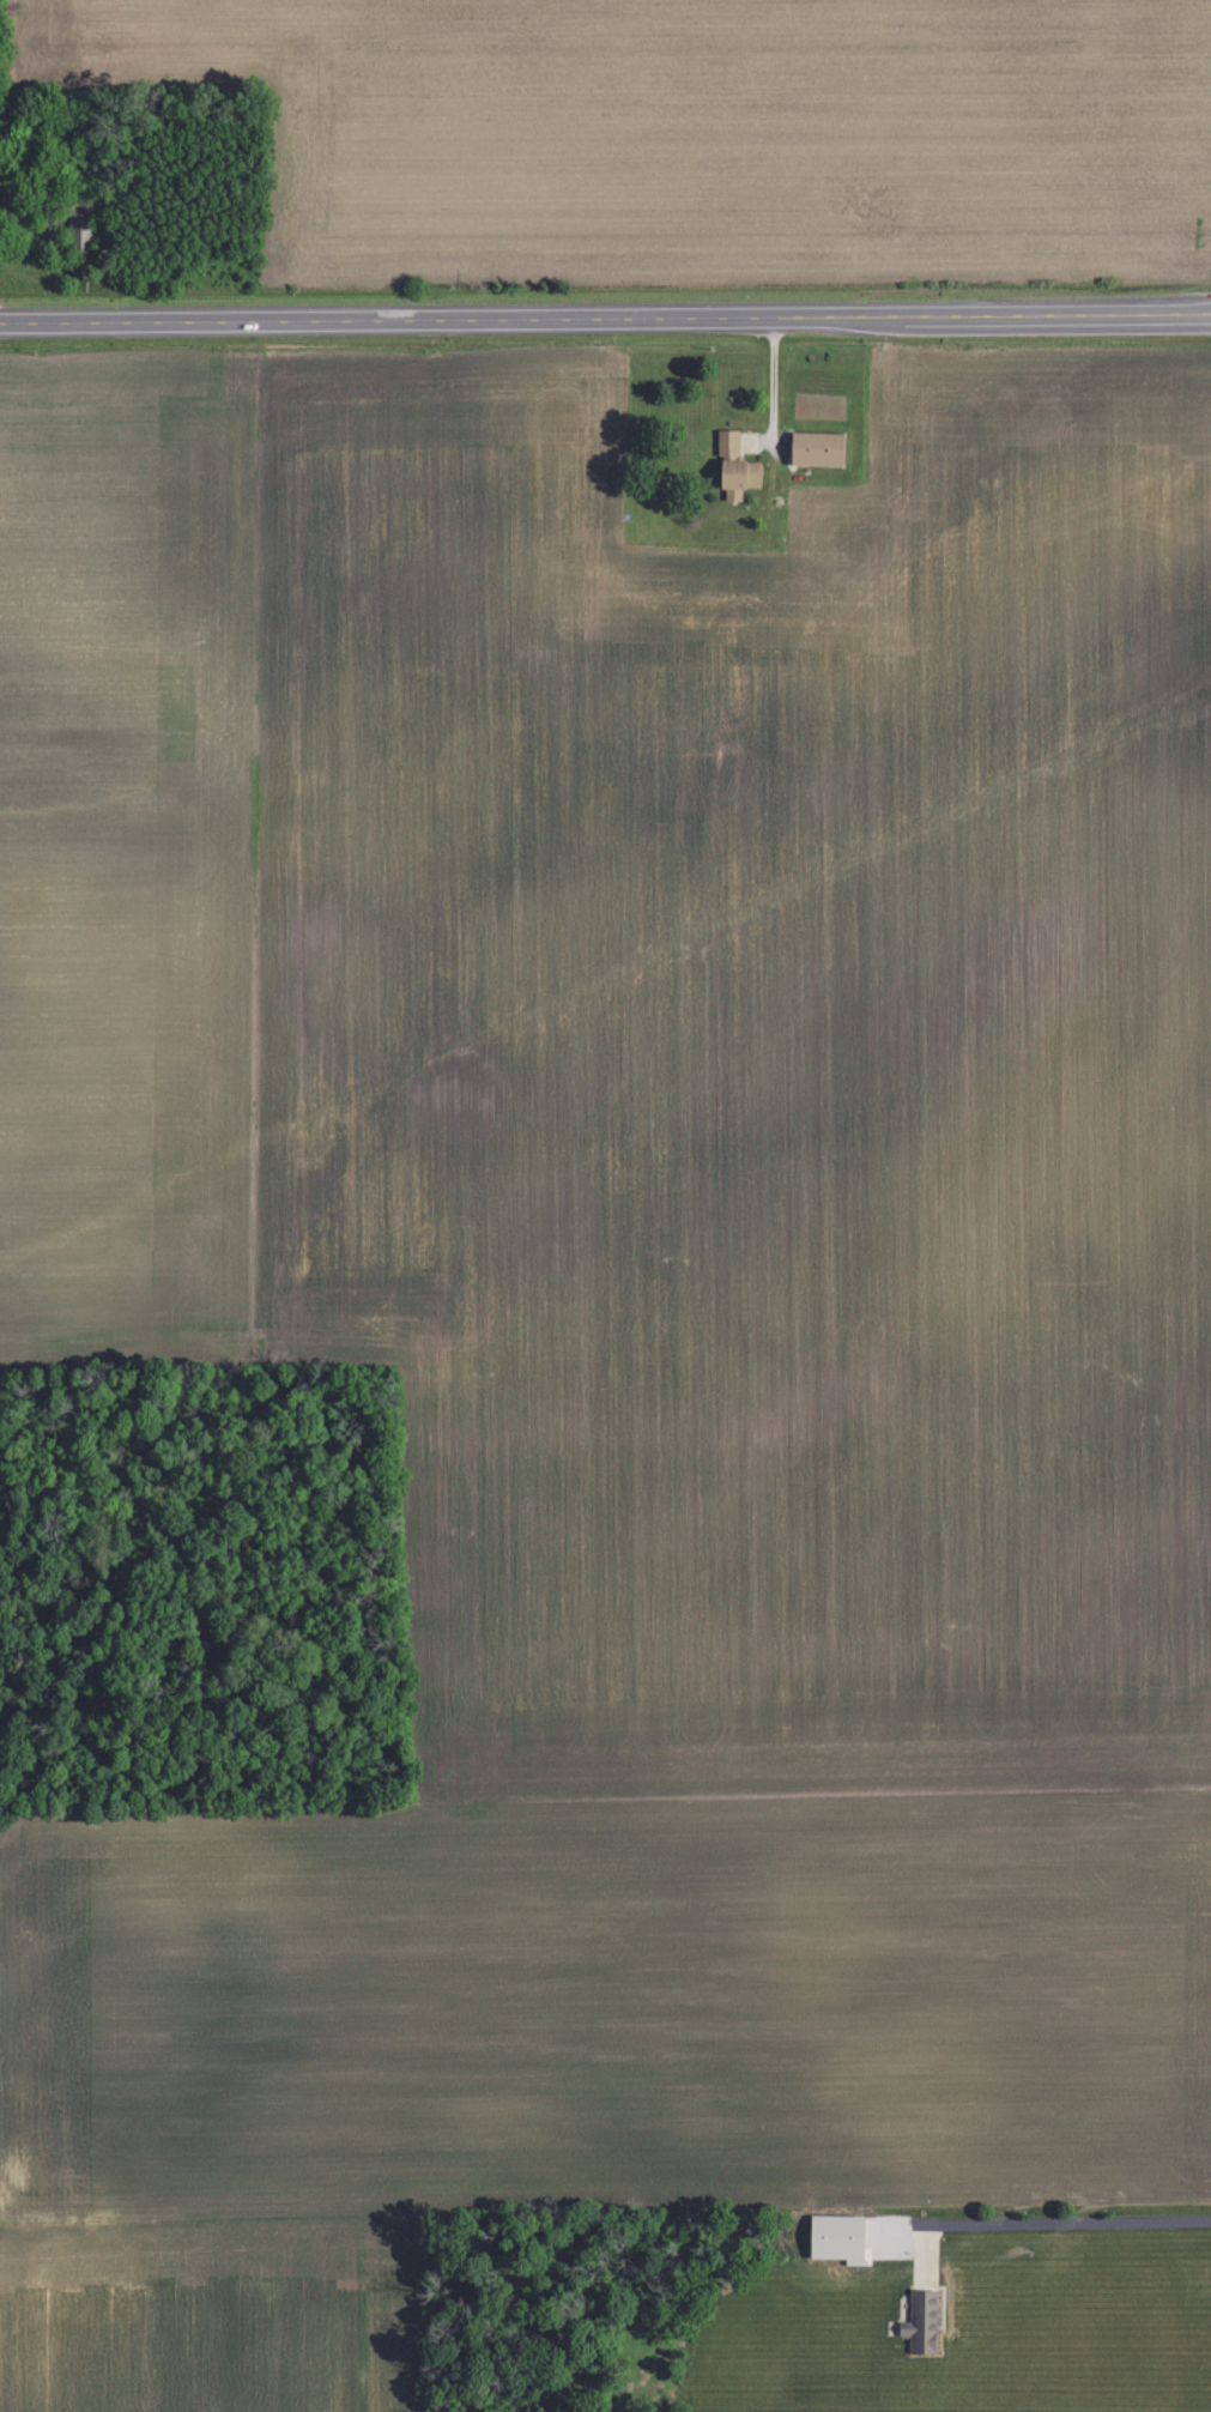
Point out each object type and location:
building: (1, 132)
road: (605, 318)
building: (729, 442)
building: (821, 448)
building: (743, 477)
building: (925, 2321)

